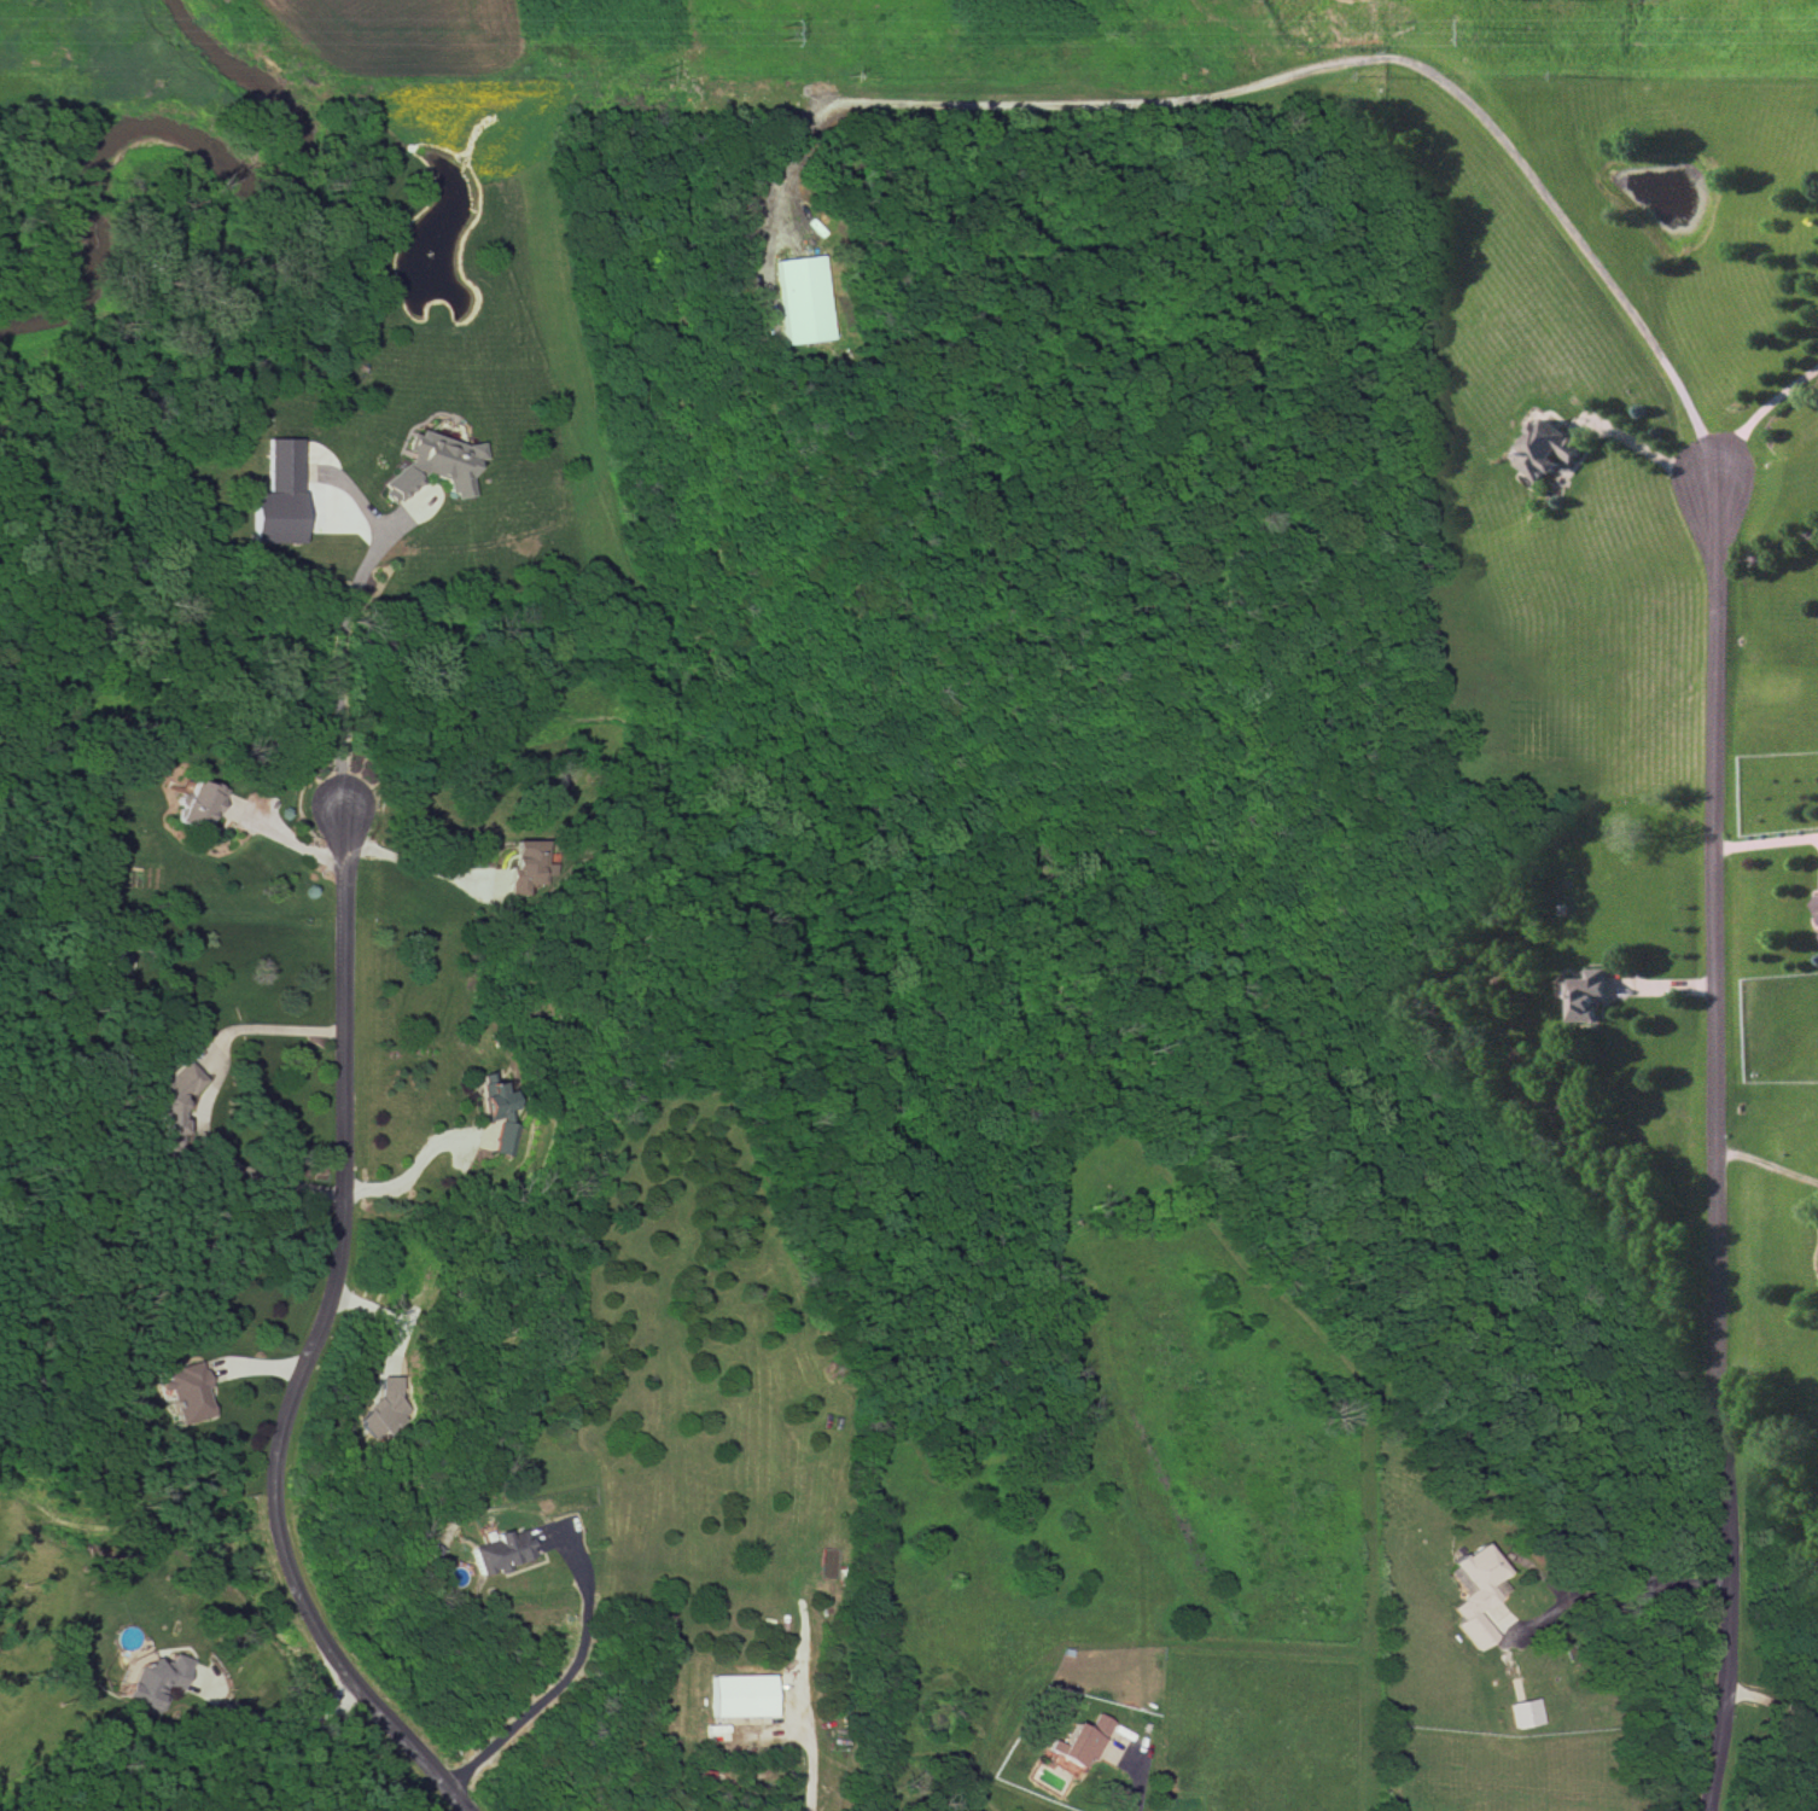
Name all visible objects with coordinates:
power tower: (1473, 31)
power tower: (774, 39)
road: (1061, 104)
building: (802, 299)
road: (1764, 413)
building: (1548, 448)
road: (1649, 454)
building: (431, 465)
building: (274, 495)
road: (1770, 553)
road: (327, 666)
building: (196, 805)
road: (282, 831)
road: (1769, 845)
road: (413, 862)
building: (521, 864)
road: (1720, 886)
building: (1817, 905)
building: (113, 961)
building: (1587, 994)
road: (204, 1101)
building: (168, 1104)
building: (496, 1120)
road: (1770, 1165)
road: (403, 1180)
road: (304, 1344)
building: (182, 1391)
building: (383, 1410)
building: (499, 1550)
road: (1619, 1595)
building: (1476, 1596)
building: (151, 1682)
road: (554, 1685)
building: (741, 1695)
road: (1767, 1706)
building: (1523, 1712)
road: (280, 1719)
building: (1099, 1724)
building: (1076, 1747)
road: (809, 1769)
road: (1129, 1786)

